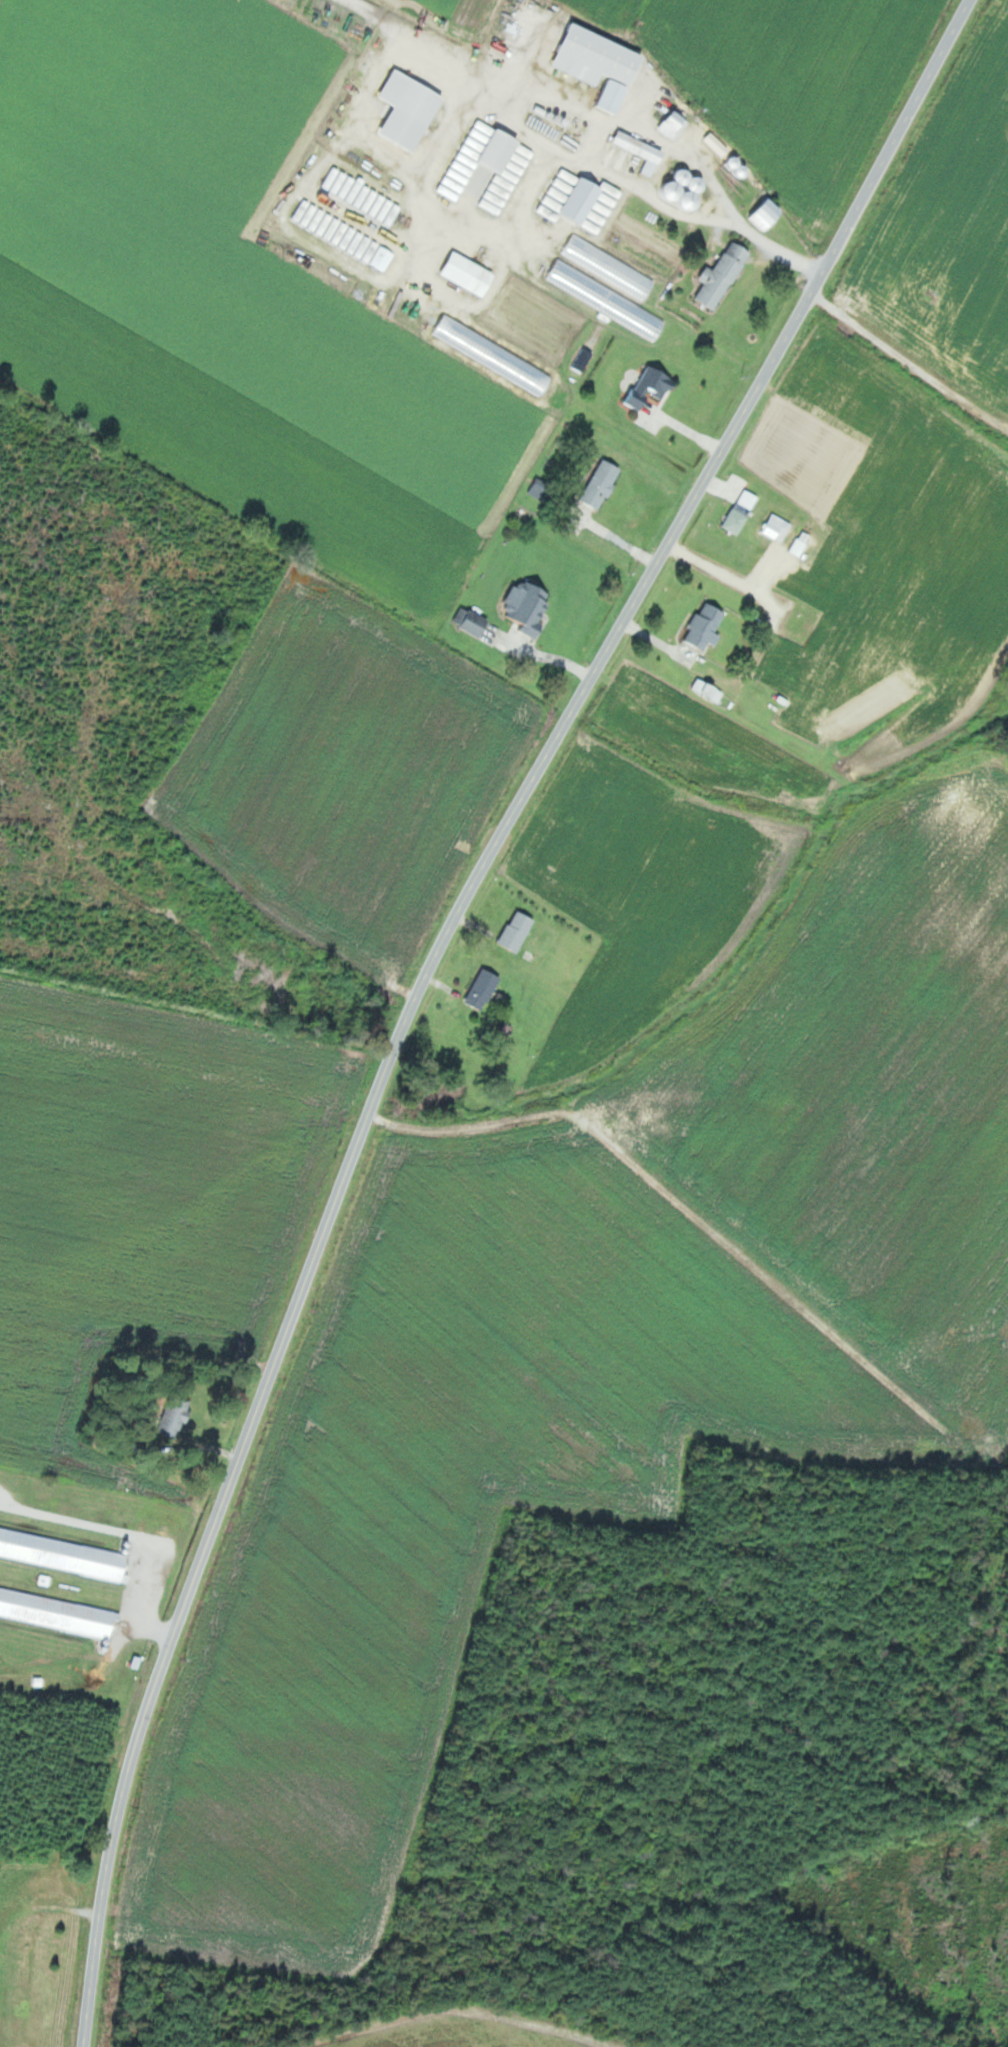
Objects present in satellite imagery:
road: (398, 27)
building: (601, 65)
building: (410, 110)
building: (675, 125)
building: (632, 150)
building: (501, 151)
building: (739, 165)
road: (632, 172)
building: (687, 189)
building: (593, 205)
building: (769, 215)
building: (610, 267)
building: (470, 275)
building: (723, 276)
building: (570, 278)
road: (909, 359)
building: (652, 386)
building: (603, 483)
building: (749, 500)
building: (737, 521)
building: (778, 528)
building: (801, 543)
building: (530, 606)
building: (476, 623)
building: (708, 626)
building: (710, 689)
building: (518, 931)
road: (422, 980)
building: (484, 989)
building: (177, 1416)
building: (63, 1553)
building: (58, 1611)
building: (53, 1885)

